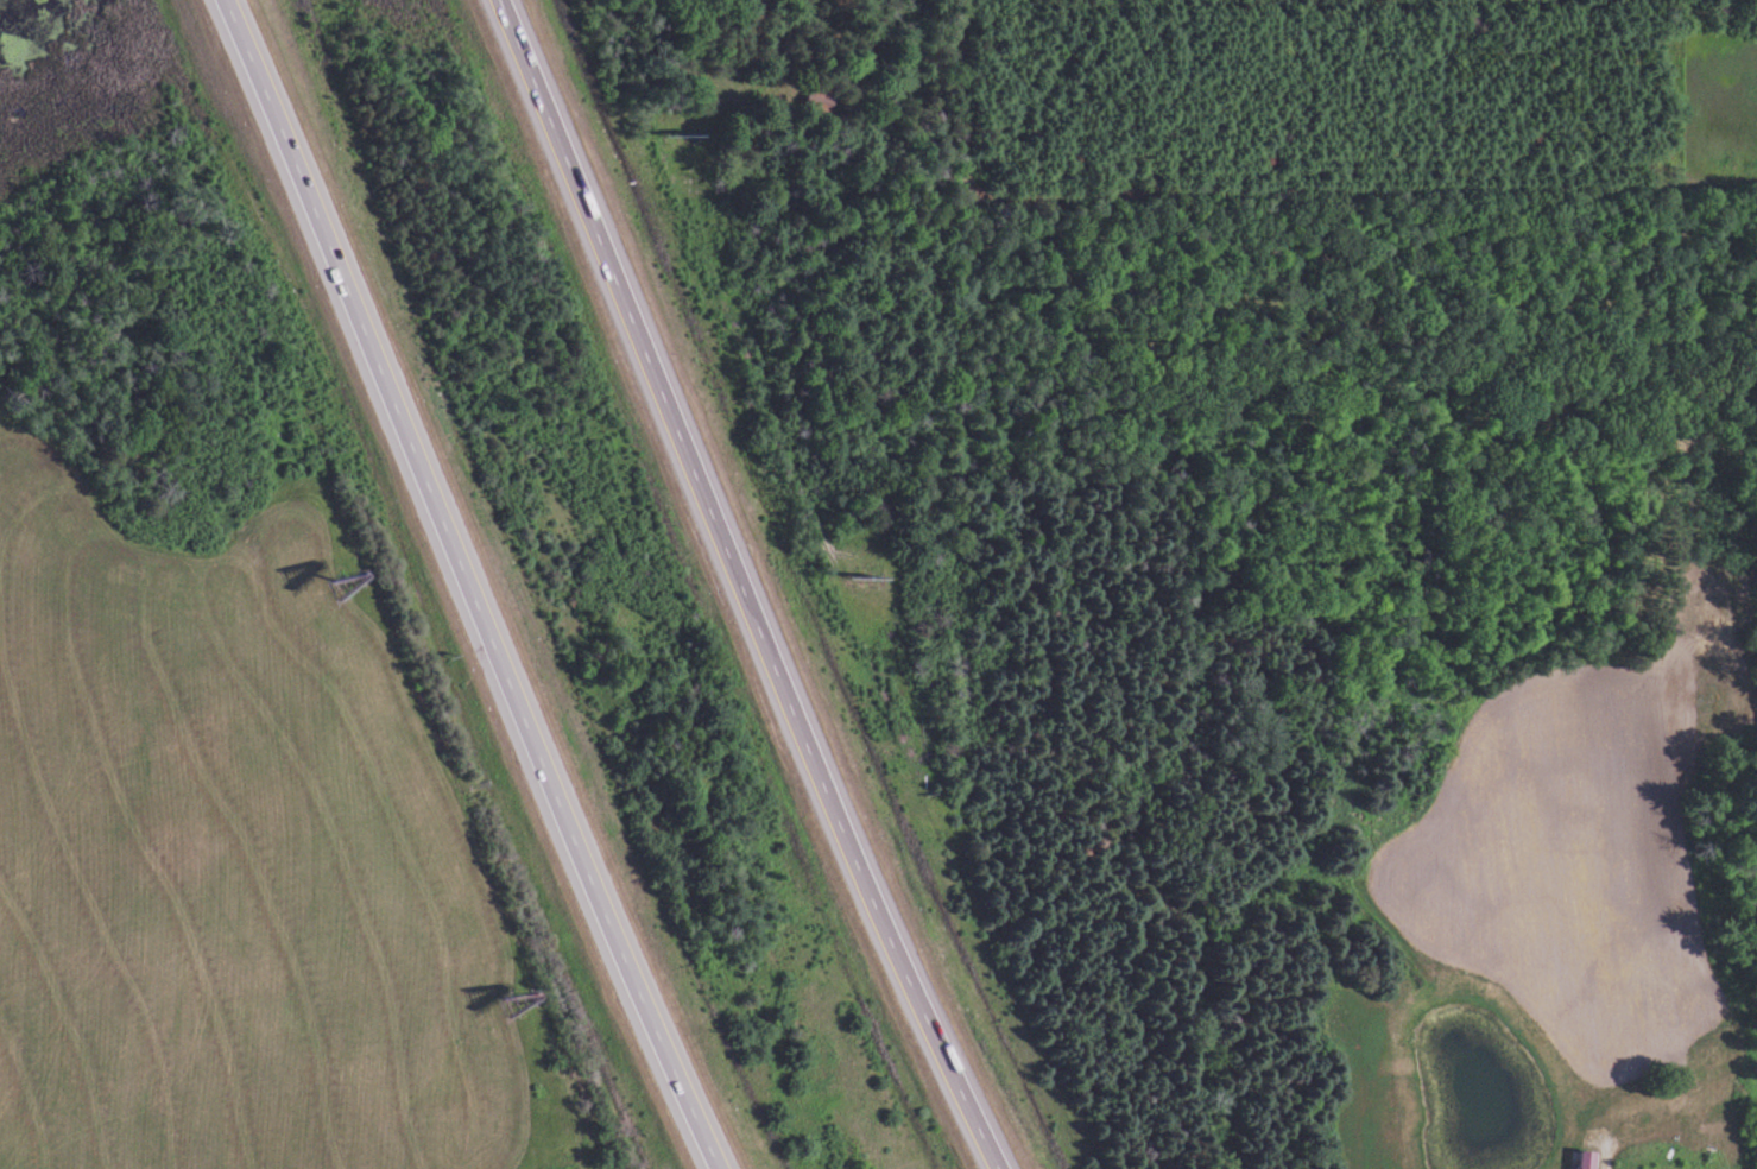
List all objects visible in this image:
building: (823, 103)
road: (744, 584)
road: (473, 586)
building: (1586, 1159)

